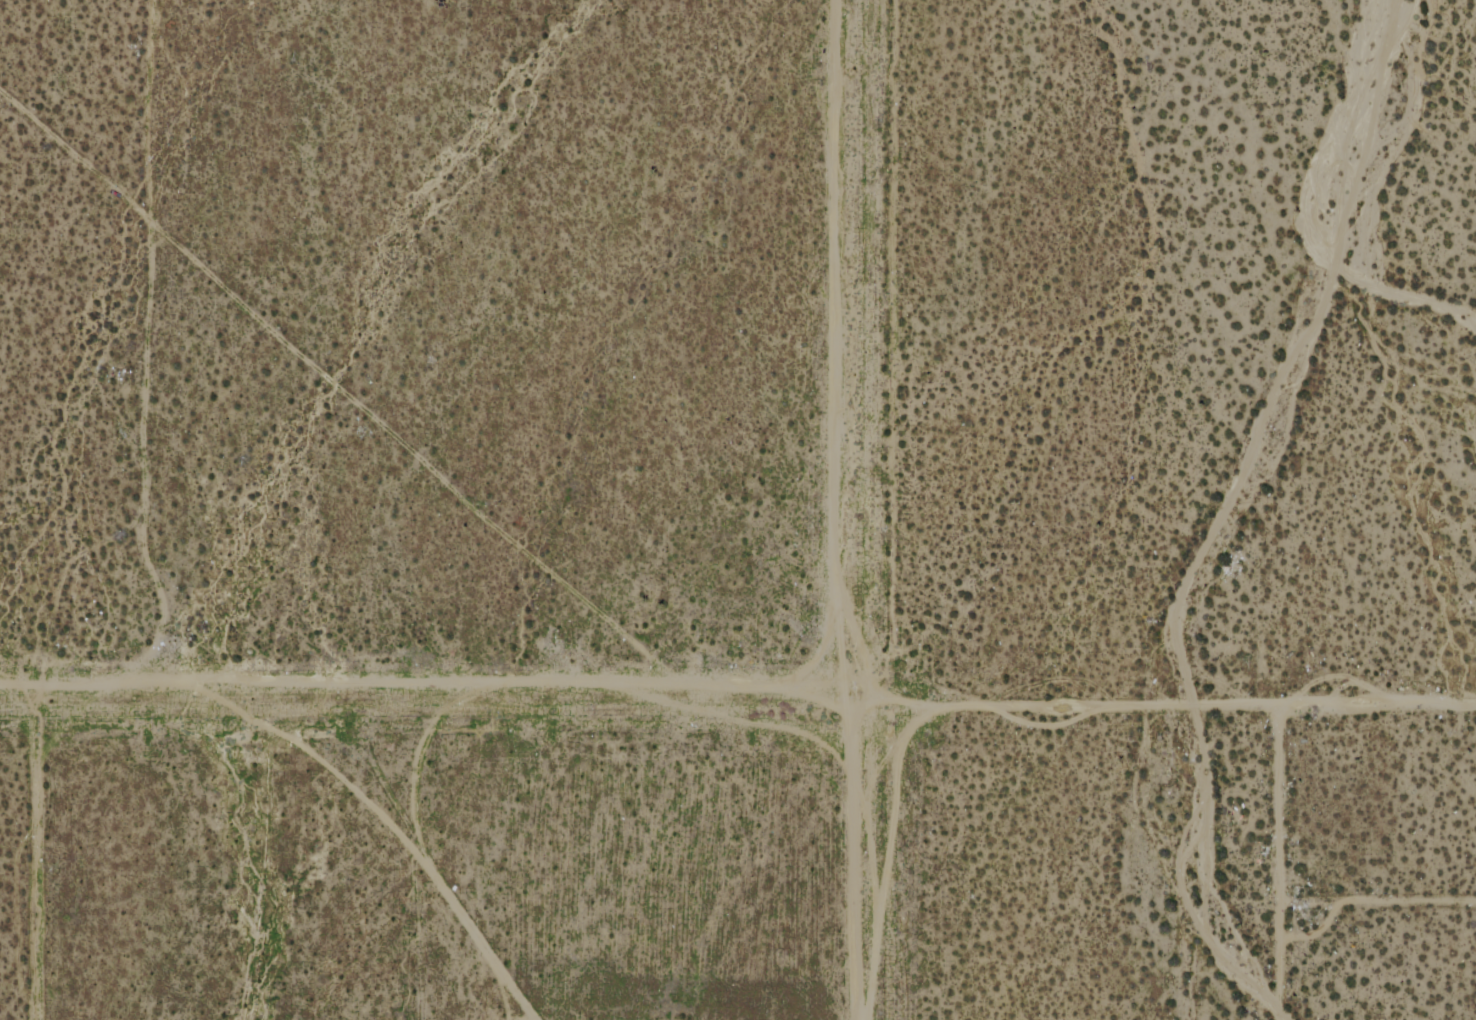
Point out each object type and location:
road: (858, 509)
road: (15, 691)
road: (443, 694)
road: (1165, 700)
road: (31, 856)

